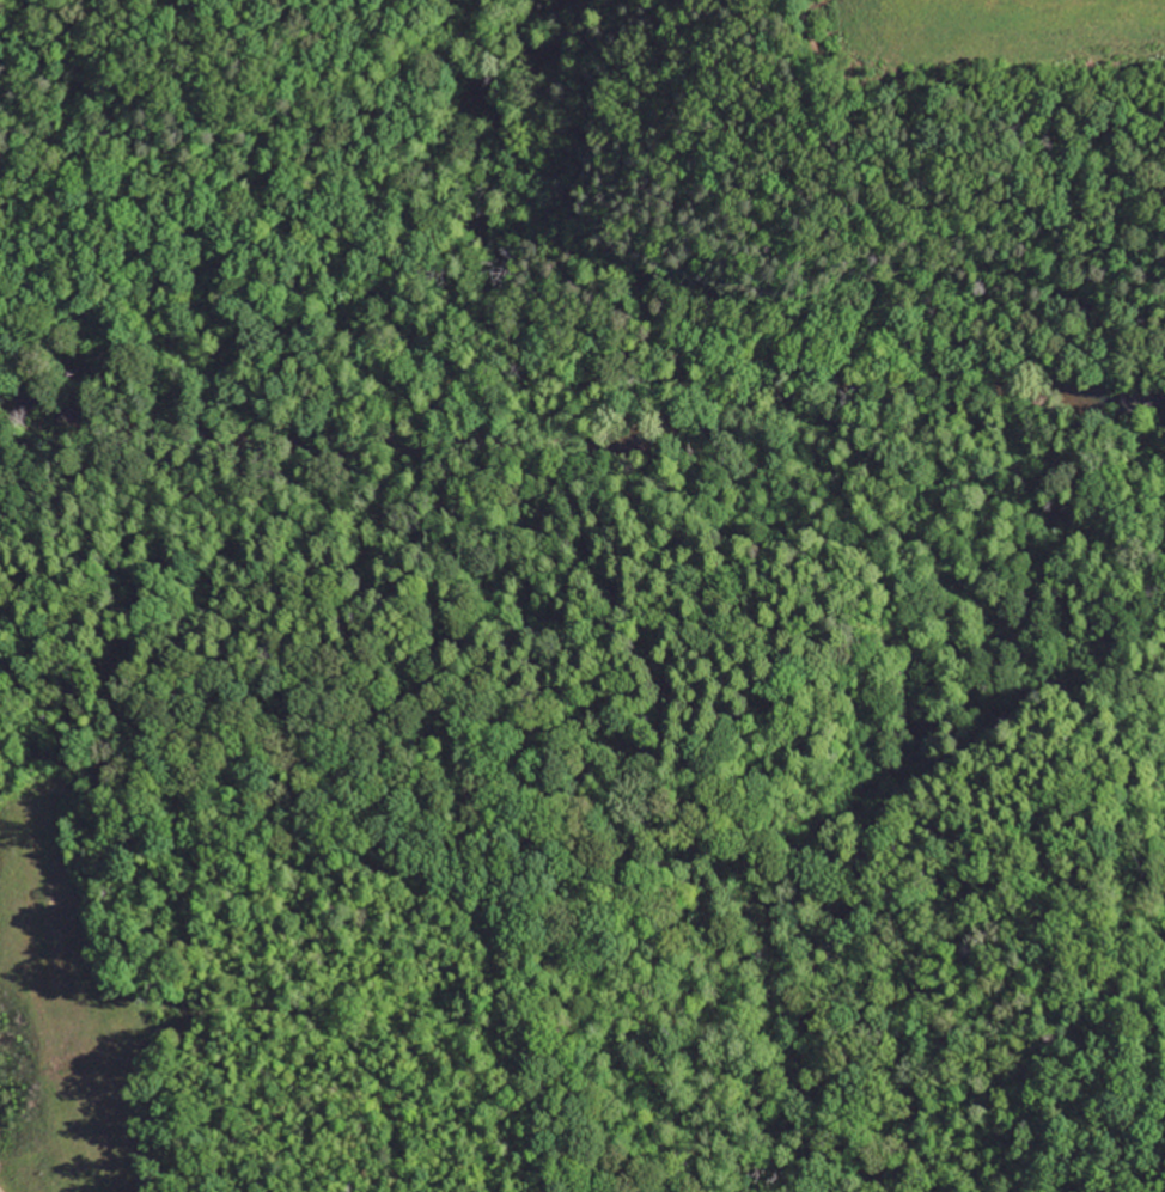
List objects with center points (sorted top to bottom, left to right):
road: (1049, 1162)

